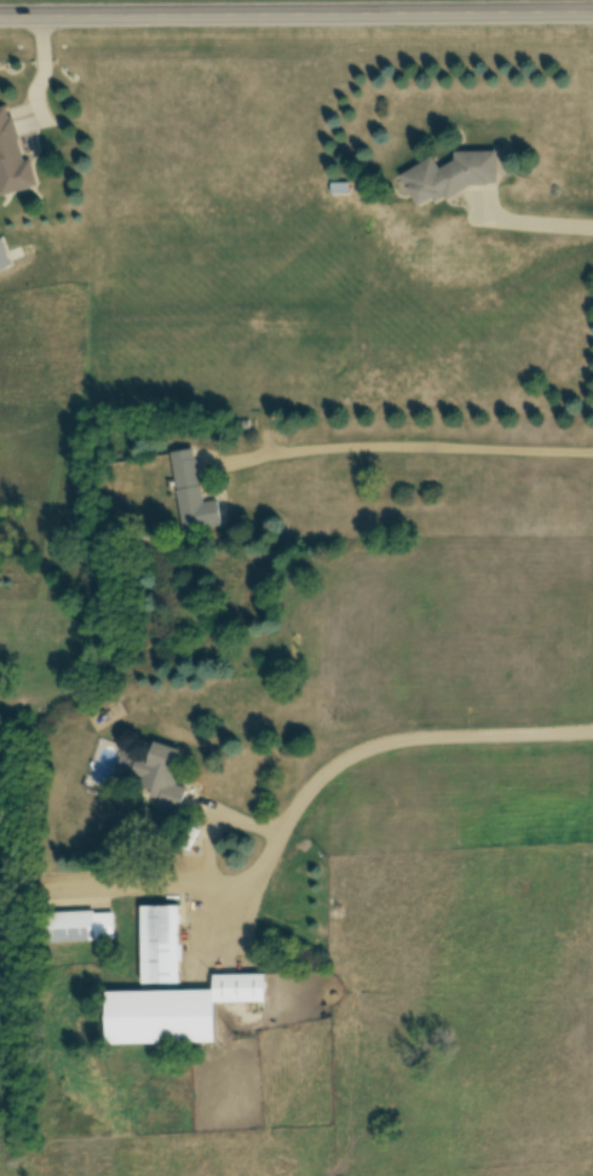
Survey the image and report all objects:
road: (296, 16)
road: (45, 70)
building: (13, 157)
building: (459, 177)
road: (539, 222)
road: (411, 444)
building: (194, 494)
building: (154, 774)
road: (293, 810)
road: (196, 837)
building: (73, 928)
building: (162, 943)
building: (244, 989)
building: (163, 1017)

